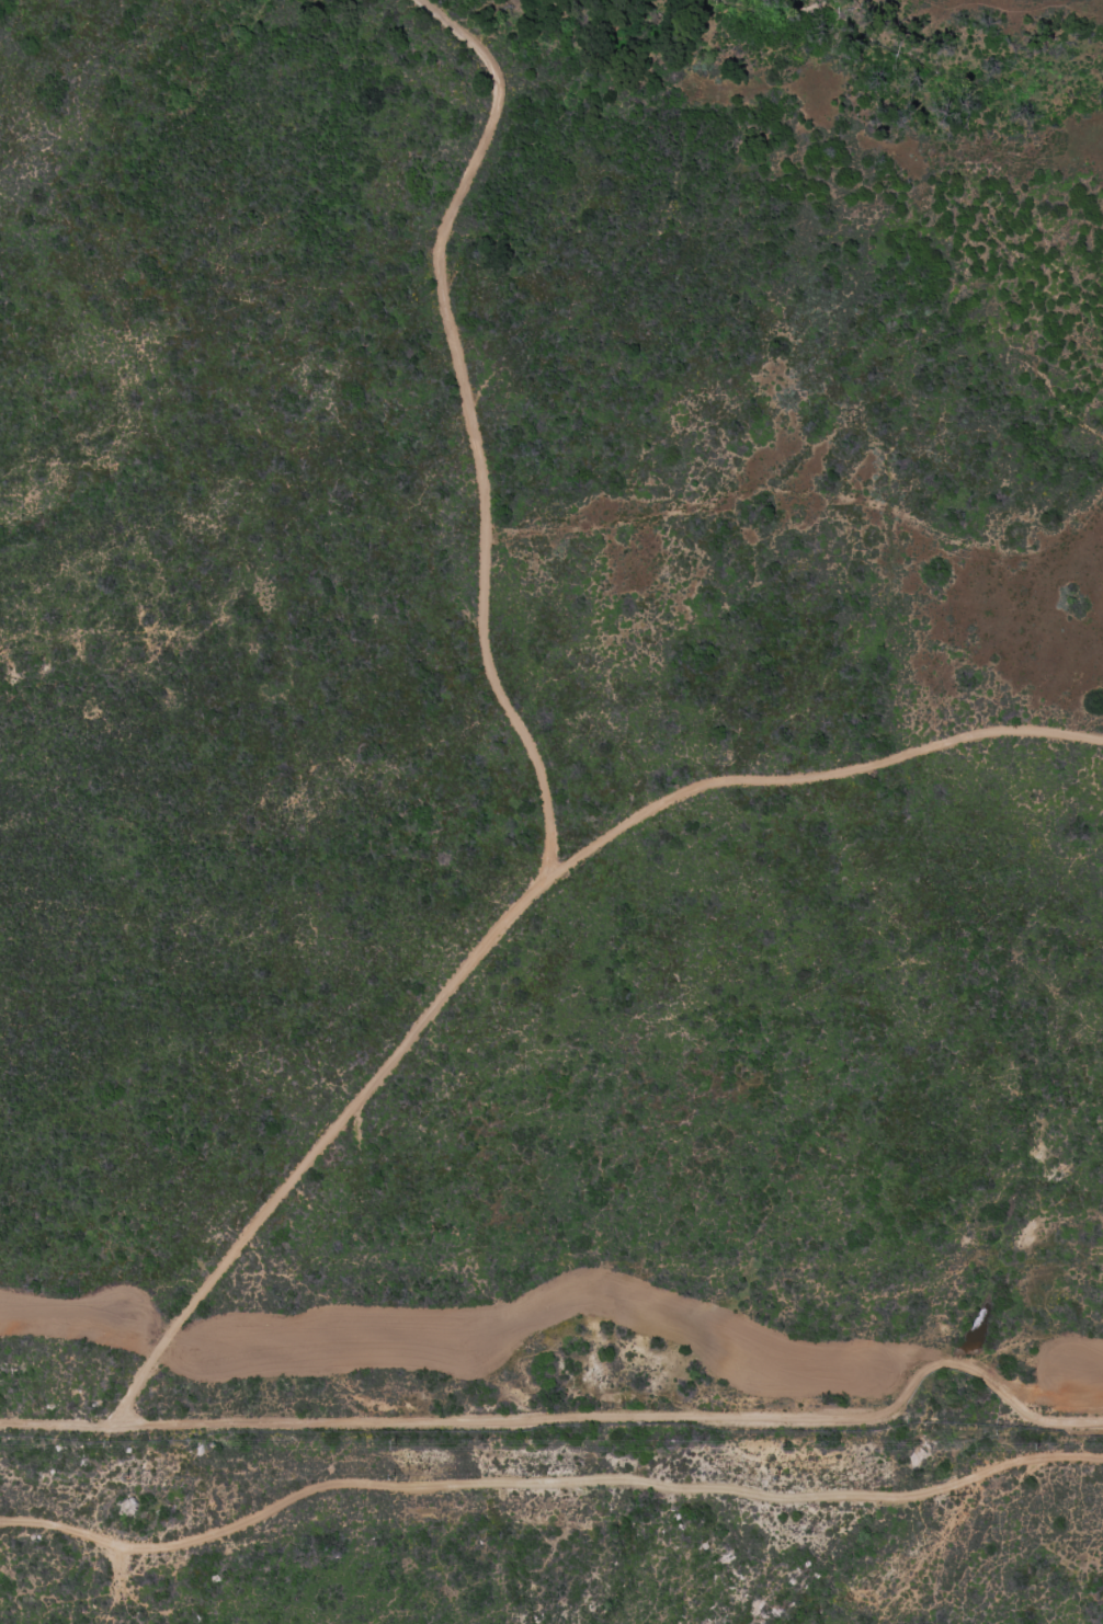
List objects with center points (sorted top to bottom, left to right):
road: (571, 1419)
road: (546, 1484)

